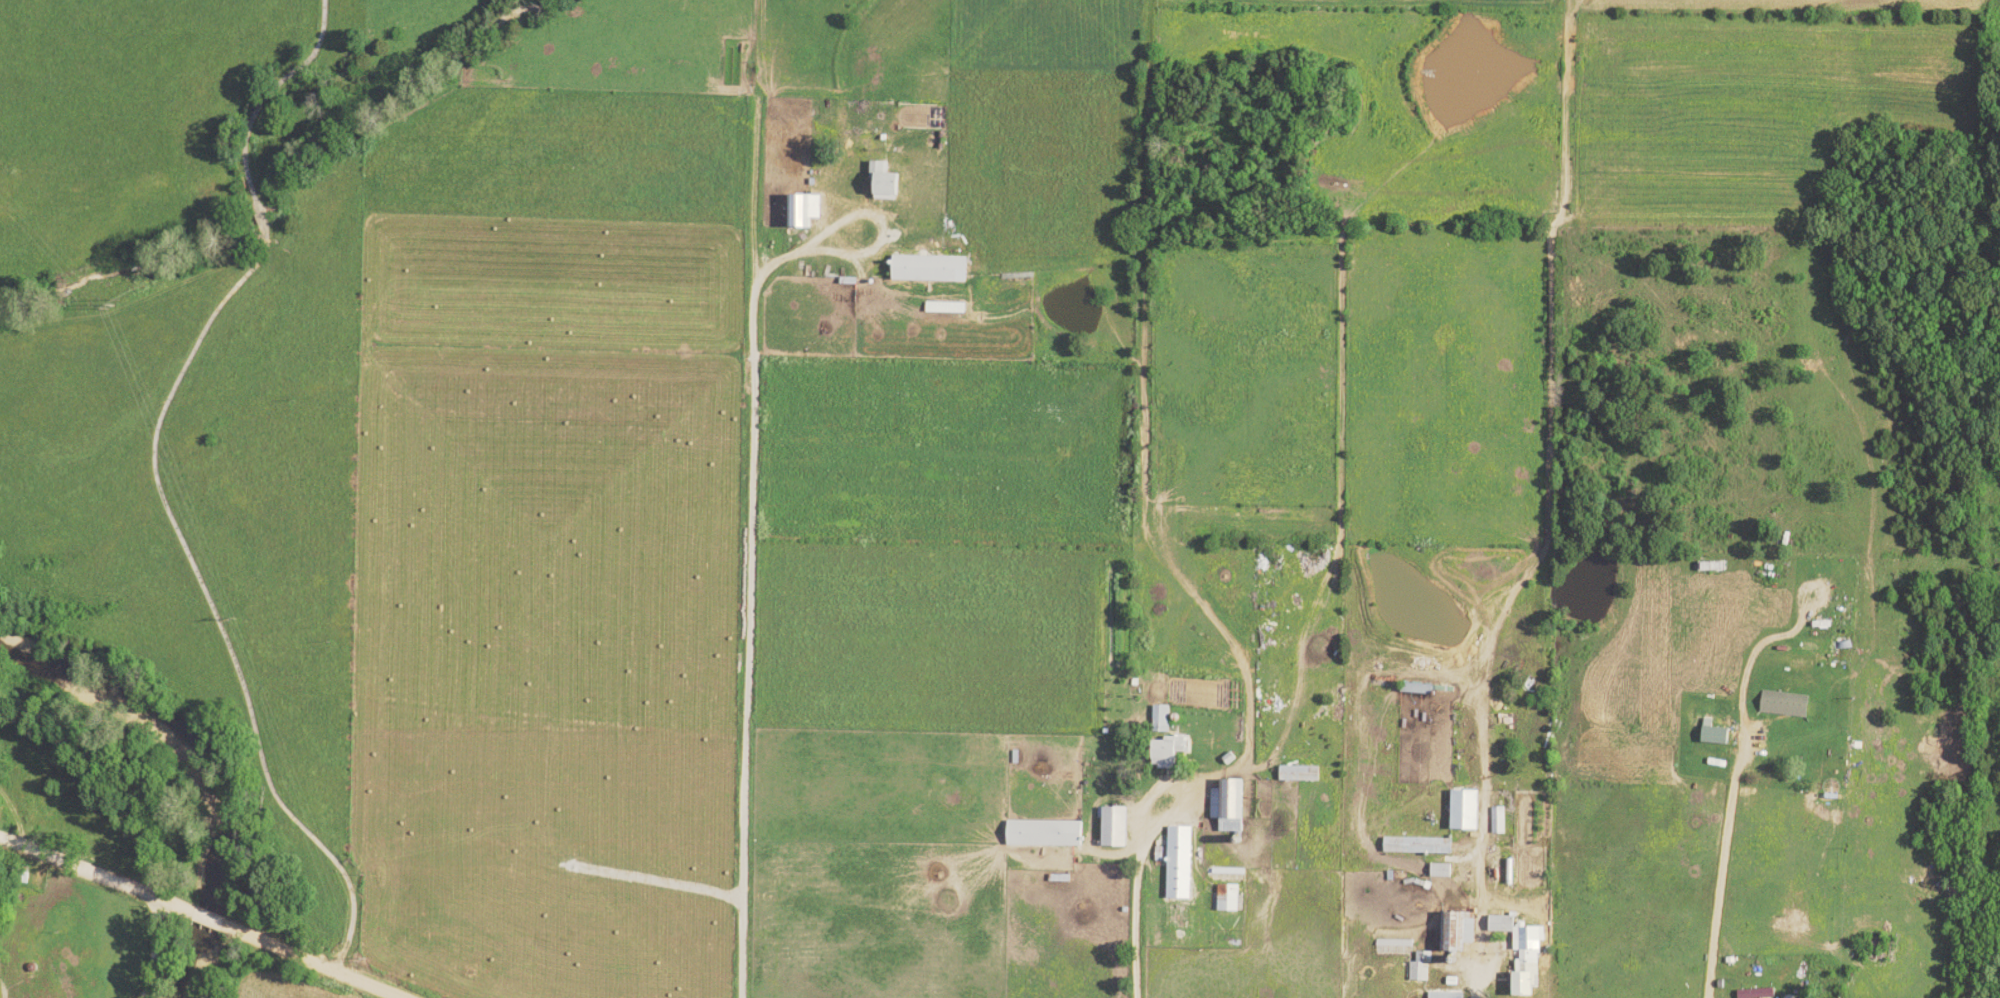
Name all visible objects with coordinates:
building: (889, 181)
building: (808, 209)
road: (893, 227)
building: (934, 268)
road: (150, 480)
road: (753, 614)
building: (1788, 704)
building: (1164, 718)
road: (1840, 728)
building: (1718, 735)
building: (1172, 752)
building: (1302, 773)
building: (1232, 805)
building: (1471, 810)
road: (1140, 813)
building: (1119, 827)
building: (1049, 833)
road: (1475, 842)
building: (1181, 846)
building: (1421, 846)
road: (1714, 859)
building: (1497, 867)
building: (1445, 871)
building: (1230, 874)
building: (1183, 884)
building: (1232, 898)
road: (196, 917)
building: (1520, 929)
building: (1459, 931)
road: (152, 951)
building: (1422, 968)
building: (1531, 977)
building: (1761, 993)
building: (1449, 995)

